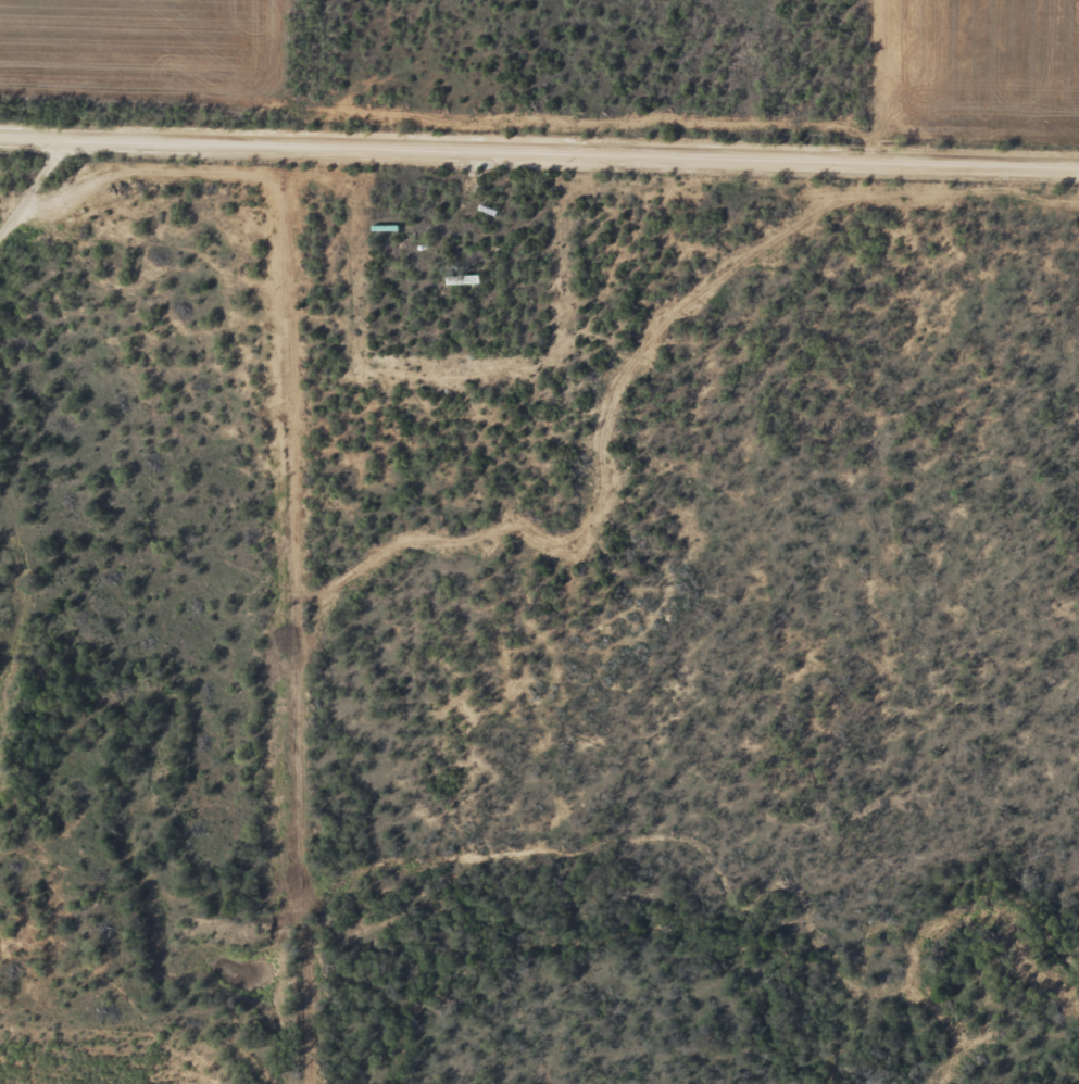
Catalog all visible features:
road: (539, 148)
road: (46, 212)
building: (468, 281)

